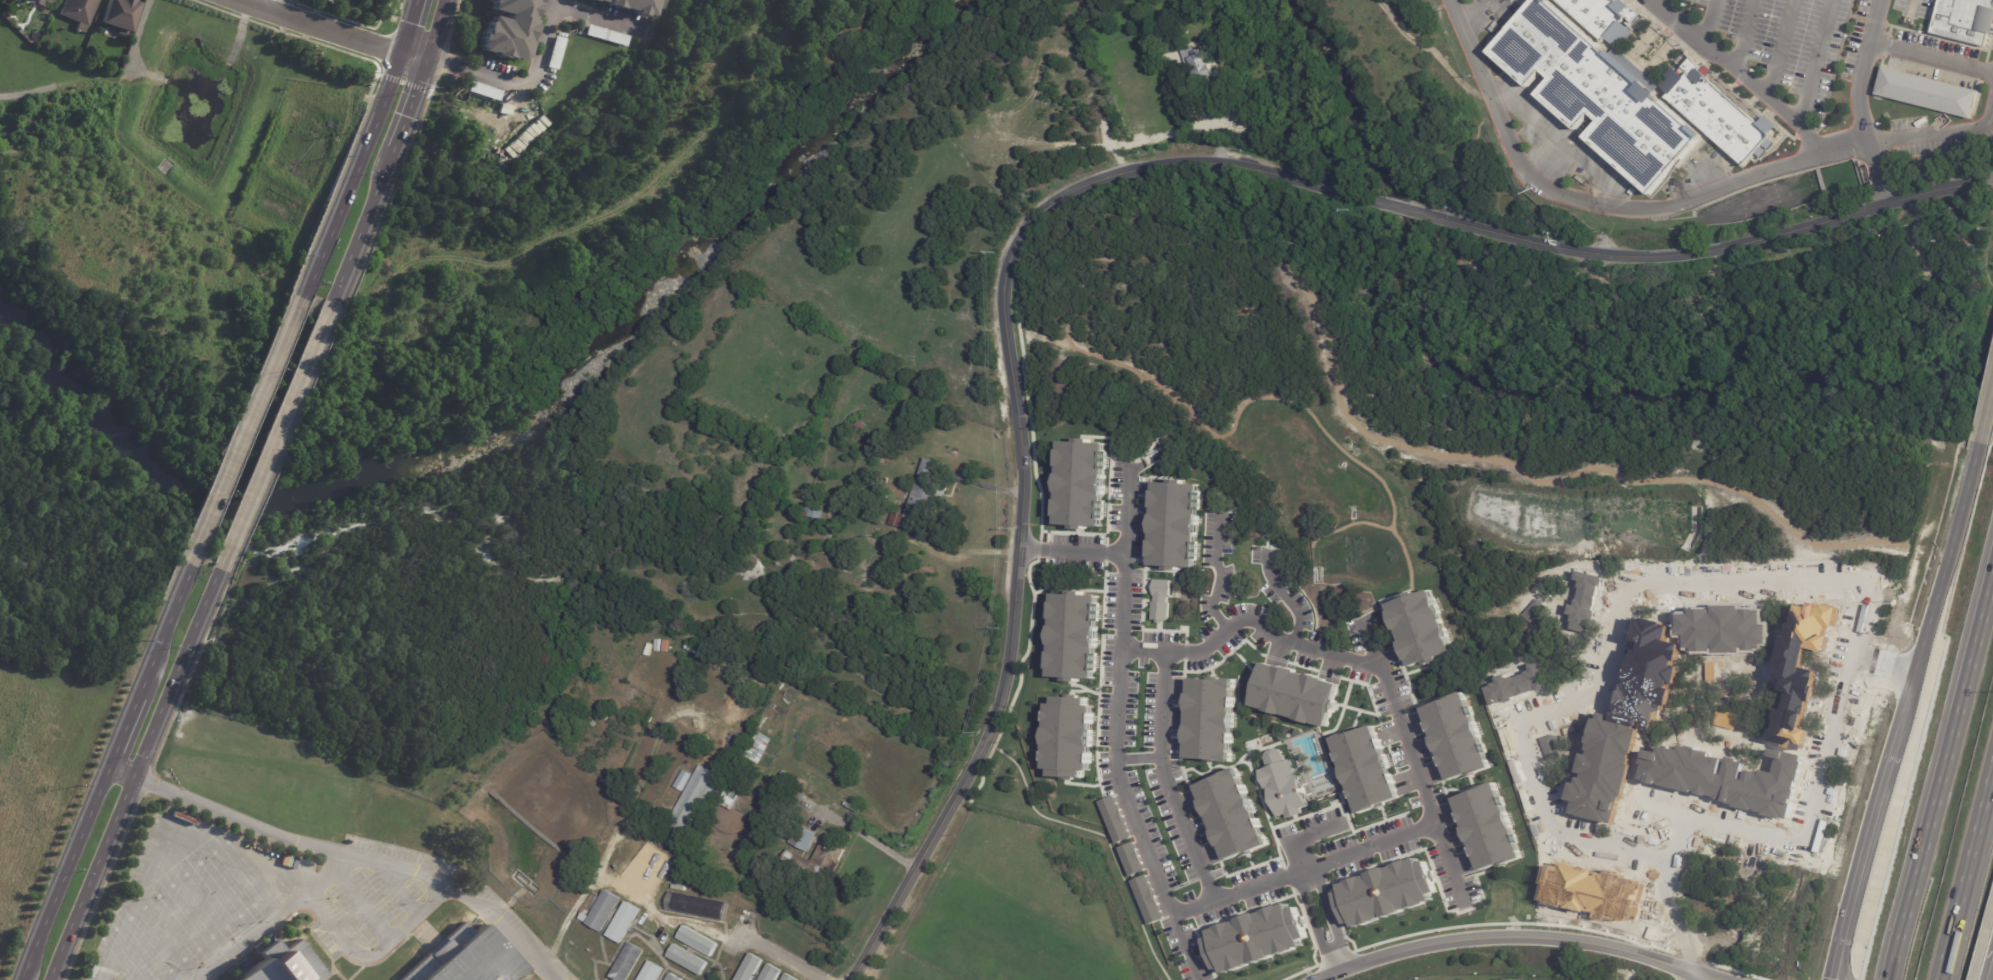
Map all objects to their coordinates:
building: (36, 0)
building: (53, 0)
building: (336, 0)
building: (595, 1)
road: (1912, 4)
road: (267, 5)
road: (1664, 5)
building: (635, 6)
building: (78, 10)
building: (119, 15)
building: (1602, 17)
road: (595, 20)
building: (1965, 20)
road: (1710, 24)
road: (316, 27)
road: (405, 27)
building: (508, 29)
road: (434, 31)
building: (607, 36)
road: (1744, 37)
parking lot: (1782, 46)
fountain: (1655, 47)
road: (1780, 51)
building: (556, 53)
road: (1931, 57)
road: (412, 58)
building: (1198, 64)
road: (1814, 64)
road: (446, 68)
road: (533, 71)
road: (101, 79)
road: (402, 83)
building: (485, 91)
building: (1596, 92)
building: (1931, 93)
road: (1758, 94)
road: (1859, 104)
road: (407, 105)
park: (1439, 105)
building: (1713, 111)
road: (1214, 119)
road: (1946, 130)
road: (345, 182)
road: (1576, 199)
road: (1391, 207)
road: (356, 231)
park: (602, 240)
road: (1698, 249)
park: (121, 281)
park: (1707, 312)
road: (1987, 418)
road: (1018, 431)
road: (238, 439)
road: (271, 442)
building: (1079, 486)
building: (925, 496)
building: (814, 510)
road: (1128, 511)
building: (1173, 526)
building: (871, 542)
road: (1072, 551)
road: (1220, 574)
road: (1287, 596)
building: (1583, 598)
building: (1160, 600)
road: (1124, 601)
road: (164, 622)
building: (1725, 623)
building: (1417, 632)
building: (1811, 636)
building: (1071, 637)
road: (1614, 637)
road: (1372, 644)
building: (695, 650)
road: (1888, 661)
road: (1385, 681)
building: (1513, 683)
building: (1293, 696)
road: (1908, 710)
building: (1797, 711)
building: (1628, 717)
building: (1210, 719)
road: (125, 721)
building: (778, 737)
building: (1068, 738)
building: (1454, 739)
building: (759, 748)
building: (1361, 772)
building: (1727, 772)
road: (133, 774)
road: (1940, 774)
building: (783, 777)
road: (141, 779)
road: (1168, 780)
building: (1278, 782)
building: (783, 790)
building: (796, 795)
building: (728, 799)
building: (690, 808)
road: (1657, 808)
building: (1232, 814)
building: (1114, 819)
road: (162, 827)
parking lot: (1311, 830)
building: (1484, 830)
building: (779, 831)
road: (860, 834)
road: (1303, 836)
building: (803, 839)
road: (1148, 845)
building: (828, 857)
road: (380, 859)
building: (1131, 859)
road: (1450, 863)
road: (1964, 866)
road: (63, 873)
road: (205, 882)
road: (253, 882)
road: (397, 886)
building: (1595, 886)
building: (1385, 893)
parking lot: (266, 896)
building: (1147, 900)
road: (362, 905)
building: (696, 906)
building: (605, 912)
road: (1679, 913)
road: (182, 914)
road: (273, 916)
road: (1333, 916)
road: (1656, 921)
building: (625, 923)
road: (1313, 923)
road: (1500, 938)
road: (638, 940)
building: (1252, 941)
road: (159, 942)
building: (698, 942)
road: (1183, 947)
road: (376, 951)
road: (771, 952)
building: (464, 958)
building: (687, 961)
road: (1843, 961)
road: (127, 962)
building: (629, 963)
building: (282, 964)
road: (711, 964)
building: (750, 969)
road: (1681, 969)
road: (717, 970)
building: (652, 972)
building: (771, 974)
road: (1687, 976)
road: (1700, 976)
building: (673, 978)
building: (789, 978)

